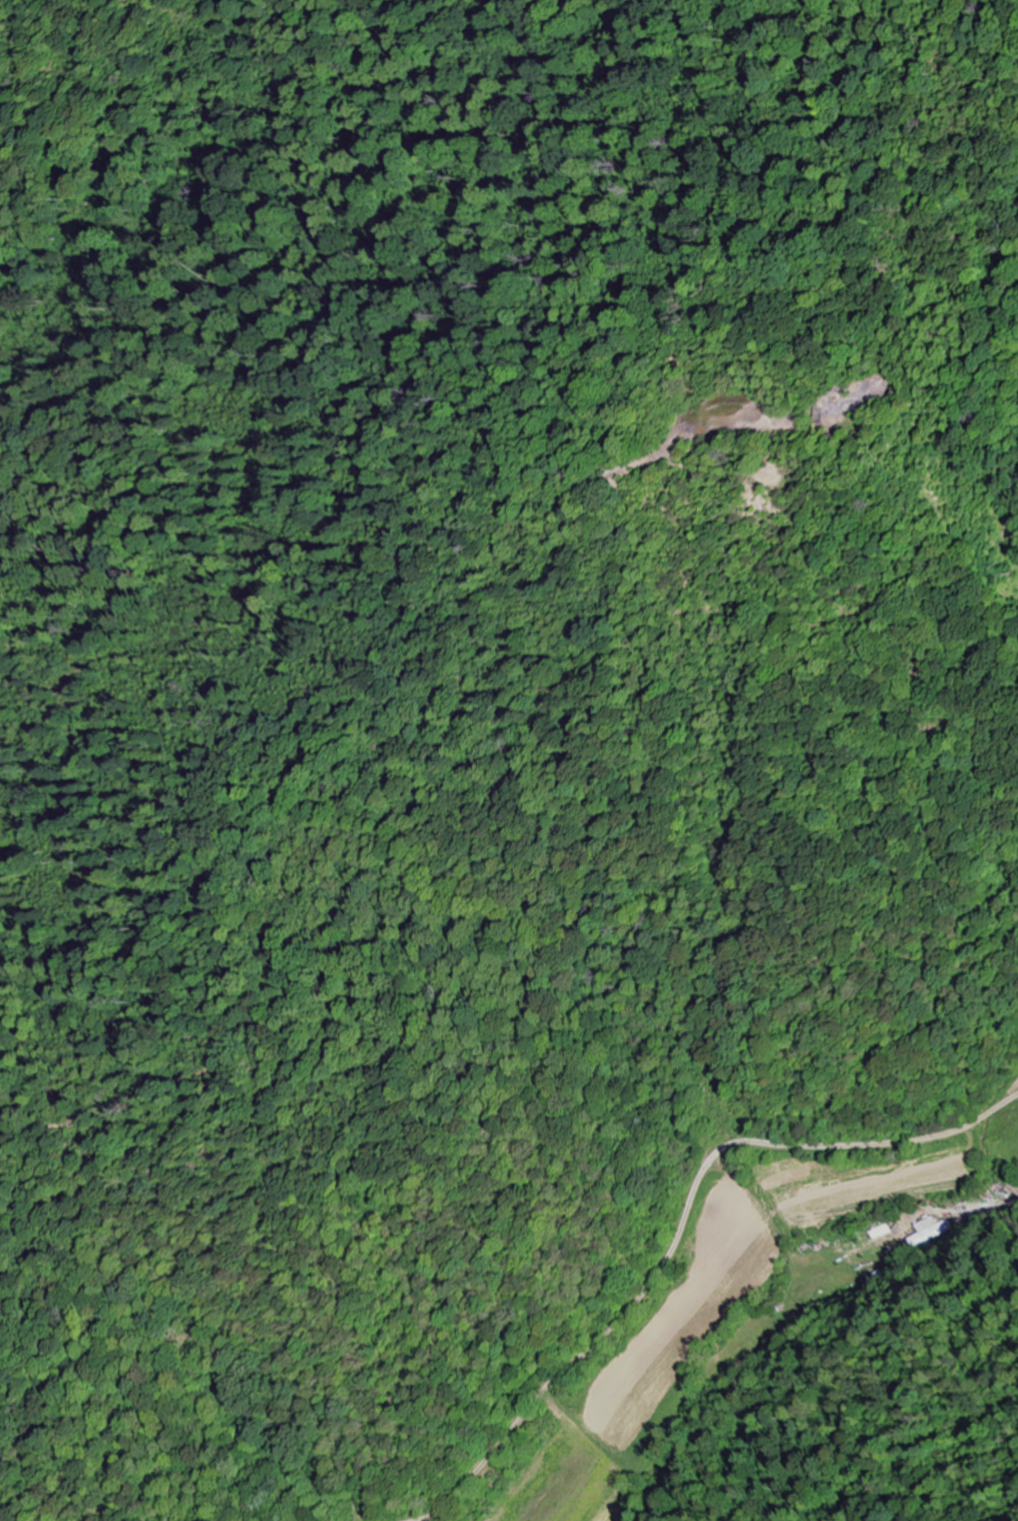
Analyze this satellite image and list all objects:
building: (924, 1232)

